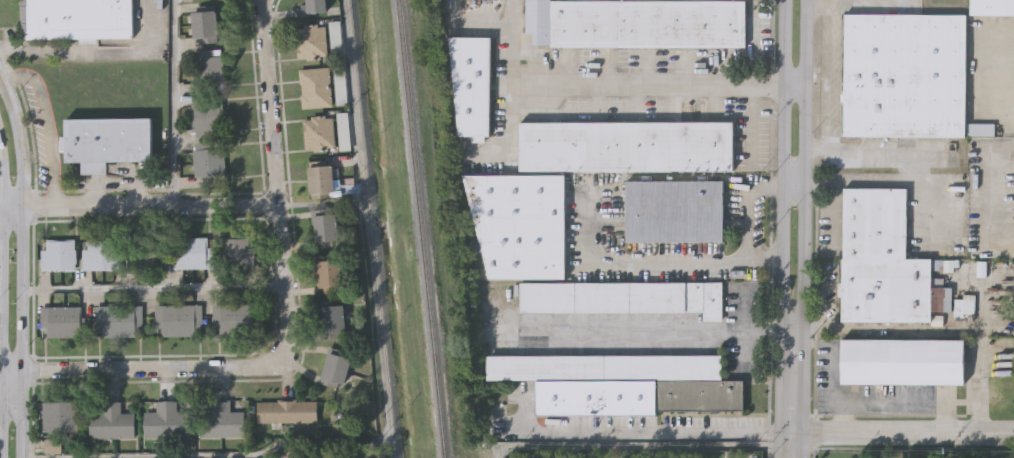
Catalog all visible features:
building: (993, 6)
building: (311, 8)
building: (77, 18)
building: (637, 22)
building: (204, 25)
building: (335, 40)
building: (311, 41)
road: (514, 43)
building: (209, 69)
road: (1, 74)
building: (906, 74)
road: (834, 75)
road: (1002, 76)
road: (749, 78)
building: (472, 82)
building: (340, 84)
building: (315, 87)
road: (658, 87)
road: (173, 102)
building: (207, 115)
road: (45, 126)
building: (981, 128)
building: (343, 131)
building: (319, 133)
road: (19, 139)
building: (106, 140)
building: (627, 144)
road: (892, 150)
building: (207, 161)
road: (3, 170)
building: (320, 180)
road: (795, 180)
road: (903, 181)
road: (1000, 183)
road: (323, 203)
road: (139, 204)
building: (675, 209)
road: (746, 219)
building: (520, 222)
building: (323, 228)
road: (803, 228)
road: (370, 229)
railway: (417, 229)
road: (786, 229)
building: (238, 251)
building: (191, 253)
building: (58, 255)
building: (101, 255)
building: (147, 255)
road: (663, 256)
building: (885, 260)
building: (328, 275)
road: (154, 287)
road: (835, 292)
building: (625, 295)
road: (1, 307)
building: (237, 317)
road: (287, 317)
building: (178, 318)
building: (119, 320)
building: (63, 321)
building: (332, 321)
road: (955, 329)
road: (21, 331)
road: (644, 331)
road: (2, 332)
building: (904, 360)
road: (832, 364)
building: (604, 365)
building: (332, 372)
building: (636, 394)
road: (10, 397)
road: (894, 404)
building: (287, 410)
building: (60, 415)
building: (222, 419)
building: (167, 420)
building: (113, 421)
road: (899, 431)
road: (646, 446)
road: (208, 455)

